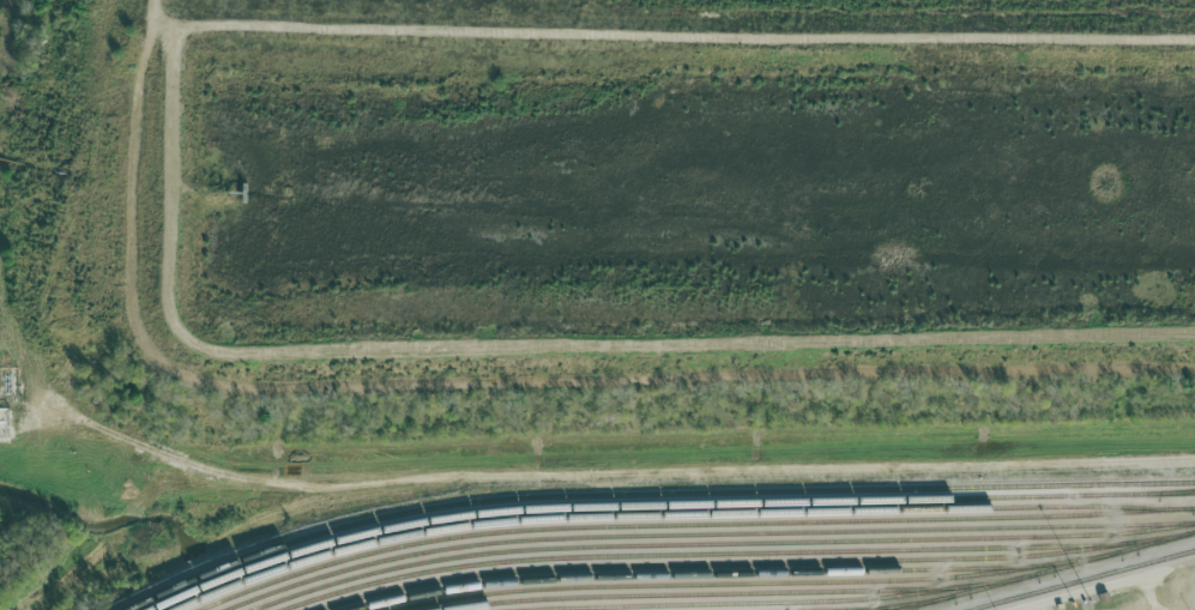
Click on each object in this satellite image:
road: (611, 483)
railway: (1170, 491)
railway: (650, 494)
railway: (663, 503)
railway: (676, 513)
railway: (681, 524)
railway: (705, 533)
railway: (719, 540)
railway: (729, 552)
railway: (725, 563)
railway: (1044, 569)
railway: (725, 572)
railway: (1081, 579)
railway: (716, 582)
railway: (722, 592)
railway: (731, 602)
railway: (906, 602)
railway: (861, 608)

